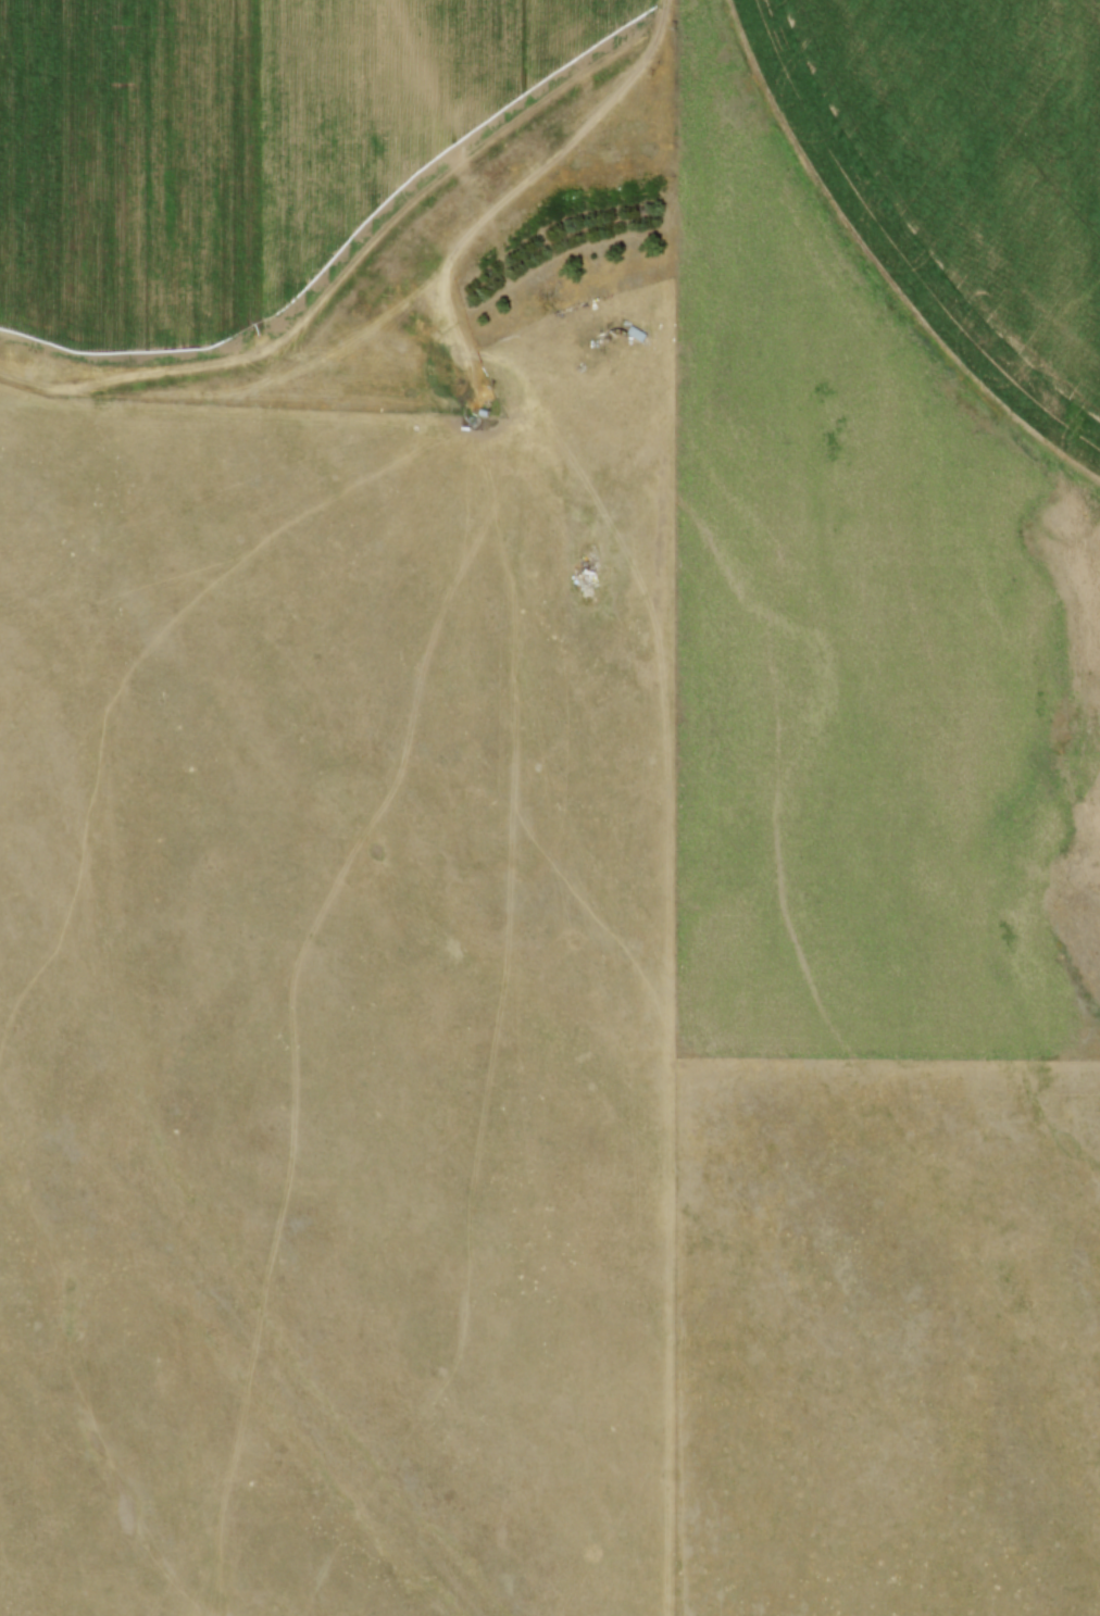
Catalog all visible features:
crop: (221, 136)
crop: (960, 183)
building: (566, 197)

